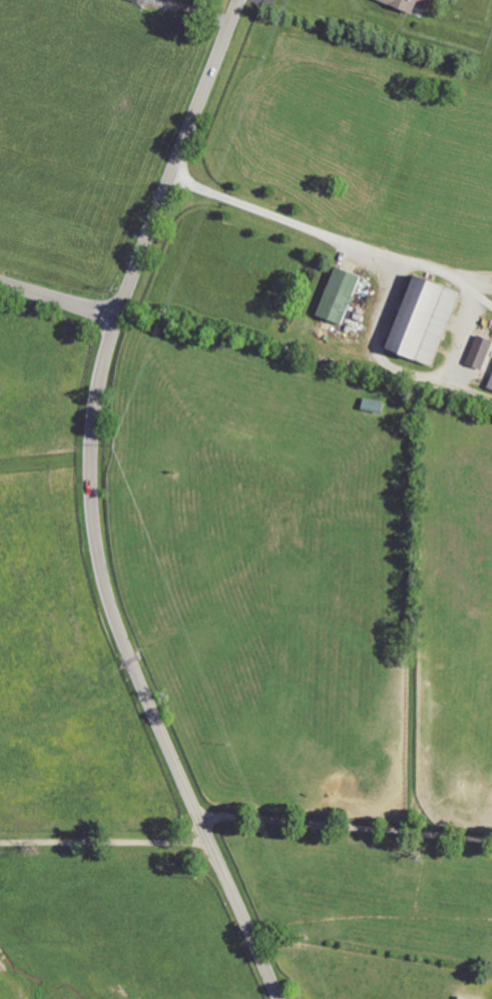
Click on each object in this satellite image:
building: (407, 4)
road: (308, 230)
road: (470, 275)
building: (342, 295)
road: (60, 298)
building: (428, 320)
road: (92, 505)
road: (345, 826)
road: (104, 843)

